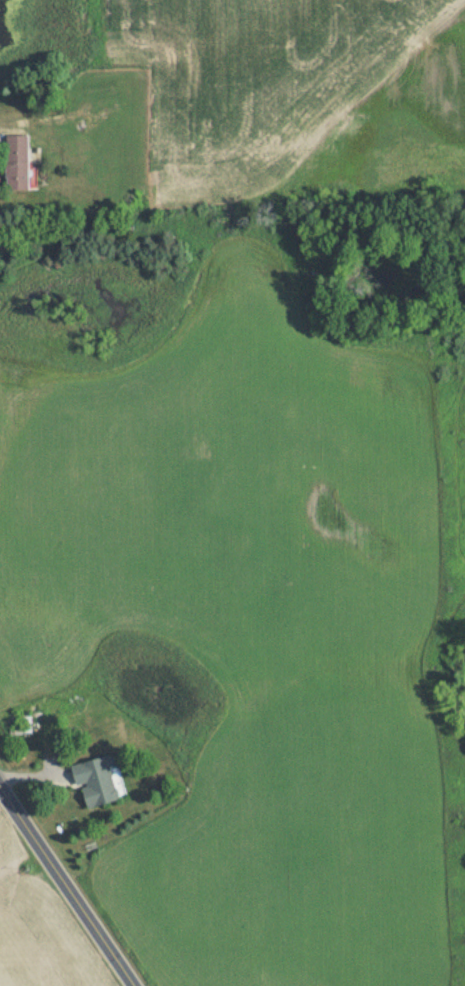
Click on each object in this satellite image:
building: (13, 163)
building: (91, 783)
road: (66, 887)

